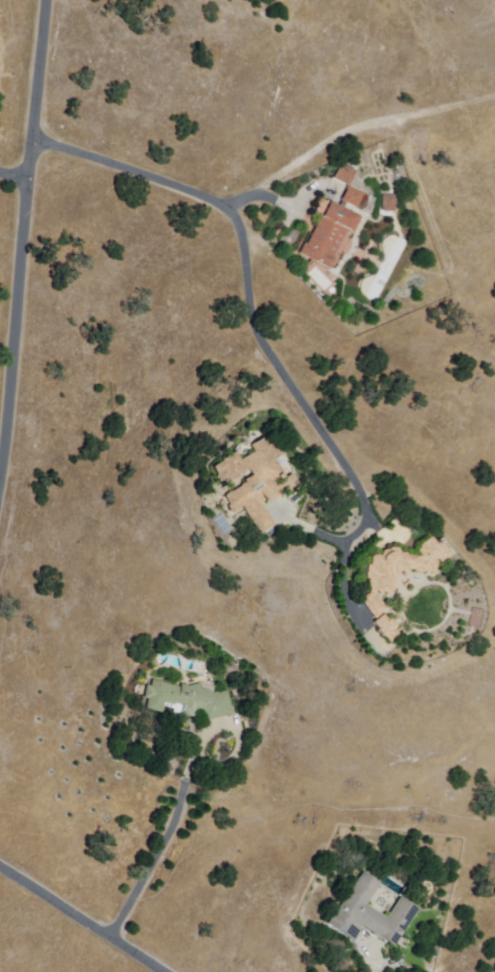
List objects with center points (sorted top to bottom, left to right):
road: (364, 125)
road: (15, 174)
building: (345, 174)
road: (263, 196)
building: (353, 198)
building: (388, 204)
building: (328, 236)
road: (24, 245)
road: (248, 291)
building: (253, 484)
building: (380, 588)
building: (188, 700)
road: (185, 785)
building: (368, 914)
road: (79, 919)

